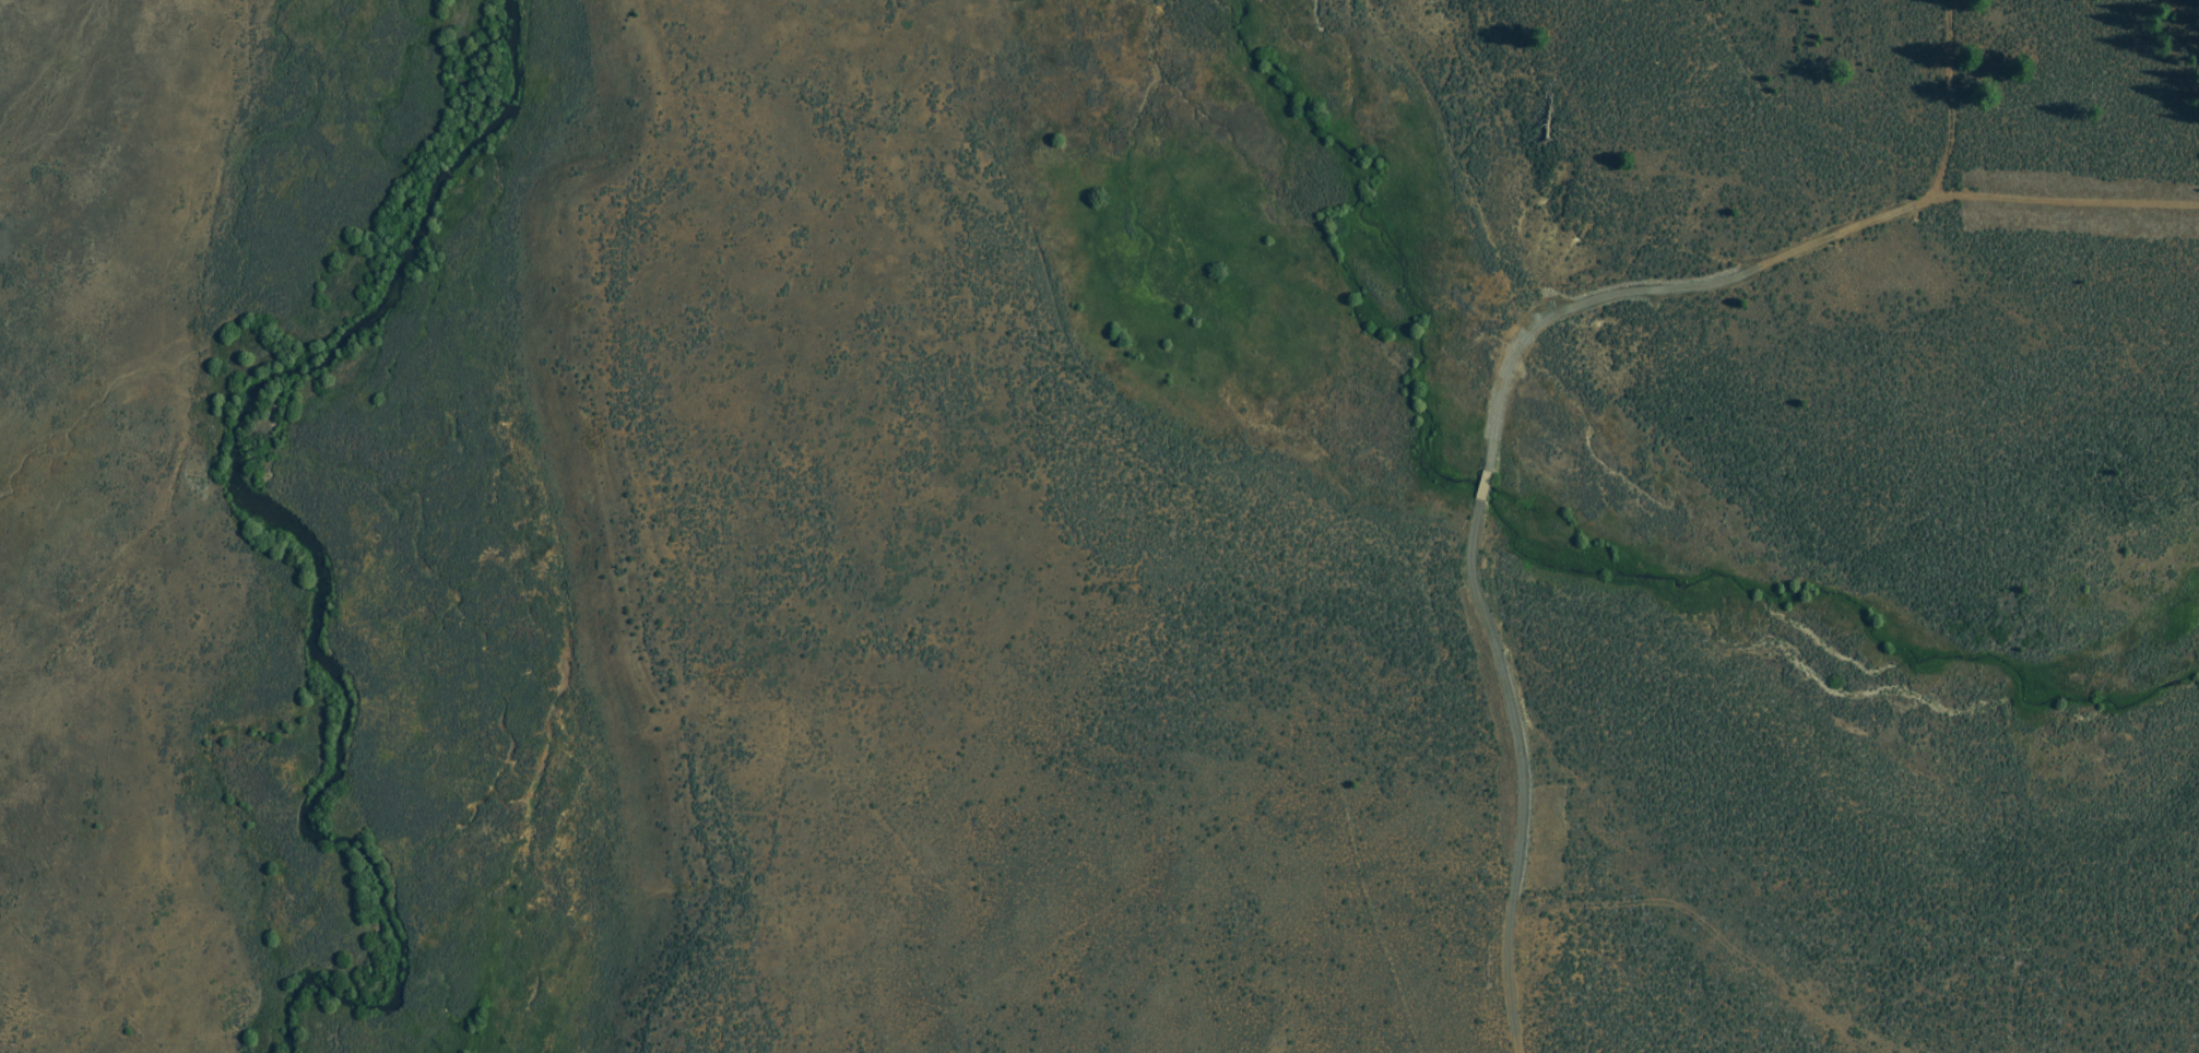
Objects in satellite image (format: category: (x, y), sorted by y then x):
road: (1942, 98)
road: (1952, 193)
road: (1548, 317)
road: (1477, 487)
road: (1503, 701)
road: (1502, 980)

